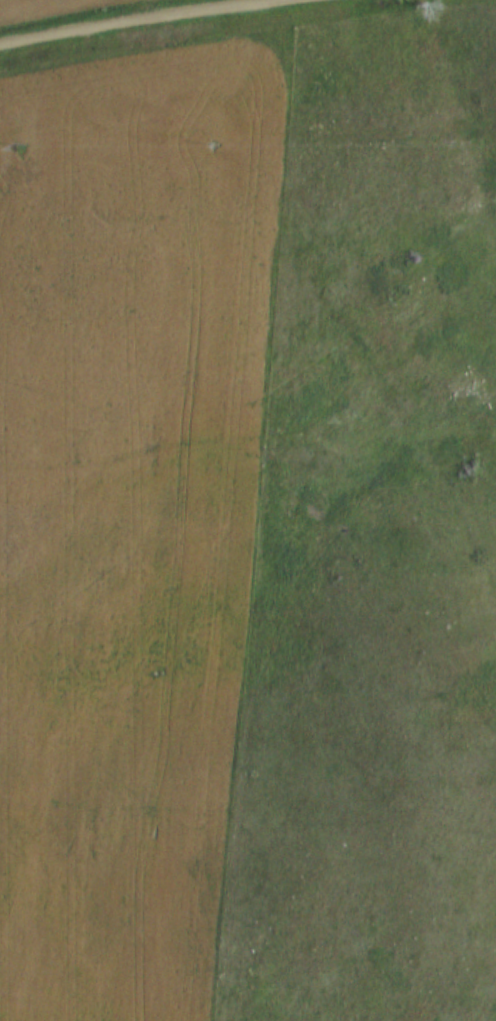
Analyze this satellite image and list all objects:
road: (134, 19)

